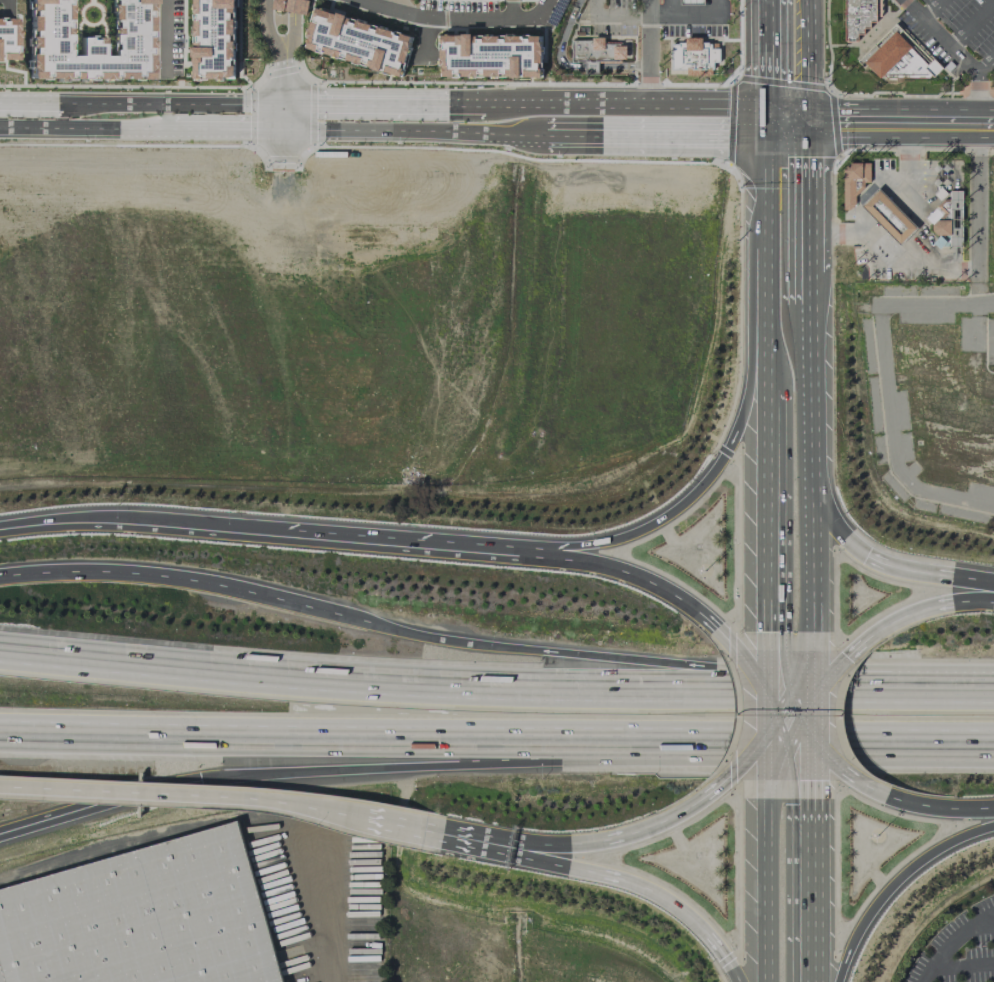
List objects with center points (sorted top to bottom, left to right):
building: (691, 2)
gas station: (691, 2)
road: (4, 3)
road: (391, 5)
building: (291, 6)
road: (594, 7)
road: (715, 7)
road: (932, 9)
road: (461, 15)
road: (653, 15)
building: (857, 17)
road: (967, 21)
road: (940, 36)
road: (165, 38)
building: (7, 39)
building: (88, 39)
building: (213, 39)
road: (421, 40)
building: (357, 41)
road: (287, 51)
building: (594, 51)
road: (266, 52)
road: (647, 53)
road: (770, 54)
road: (801, 54)
building: (490, 55)
building: (693, 56)
gas station: (693, 56)
building: (896, 58)
road: (985, 65)
road: (977, 92)
road: (82, 102)
road: (224, 103)
road: (528, 105)
traffic signals: (771, 110)
road: (786, 110)
traffic signals: (802, 110)
road: (878, 111)
road: (974, 112)
road: (276, 116)
road: (285, 116)
road: (771, 121)
road: (802, 121)
road: (142, 128)
road: (415, 130)
traffic signals: (771, 132)
road: (786, 132)
traffic signals: (802, 133)
road: (898, 133)
road: (684, 134)
road: (571, 135)
building: (853, 182)
road: (770, 188)
road: (802, 190)
road: (871, 190)
building: (888, 216)
road: (977, 226)
road: (920, 262)
road: (803, 263)
road: (770, 289)
road: (769, 362)
road: (805, 455)
road: (702, 484)
road: (768, 511)
road: (141, 519)
road: (418, 540)
road: (884, 565)
street lamp: (704, 571)
road: (185, 578)
road: (640, 578)
road: (990, 591)
road: (913, 612)
road: (726, 635)
traffic signals: (849, 655)
road: (768, 656)
road: (628, 658)
road: (751, 661)
road: (806, 663)
road: (828, 674)
road: (445, 686)
road: (943, 693)
road: (779, 696)
road: (798, 702)
road: (769, 707)
road: (807, 714)
road: (779, 722)
road: (798, 722)
road: (496, 739)
road: (757, 748)
road: (822, 748)
traffic signals: (746, 762)
road: (807, 766)
road: (769, 767)
road: (367, 768)
traffic signals: (199, 779)
road: (862, 781)
road: (721, 783)
road: (184, 793)
road: (99, 806)
road: (941, 809)
road: (445, 834)
street lamp: (876, 835)
road: (610, 836)
road: (897, 885)
road: (649, 888)
road: (808, 890)
road: (770, 891)
road: (333, 917)
building: (143, 918)
road: (984, 923)
road: (951, 941)
parking lot: (959, 949)
road: (961, 965)

